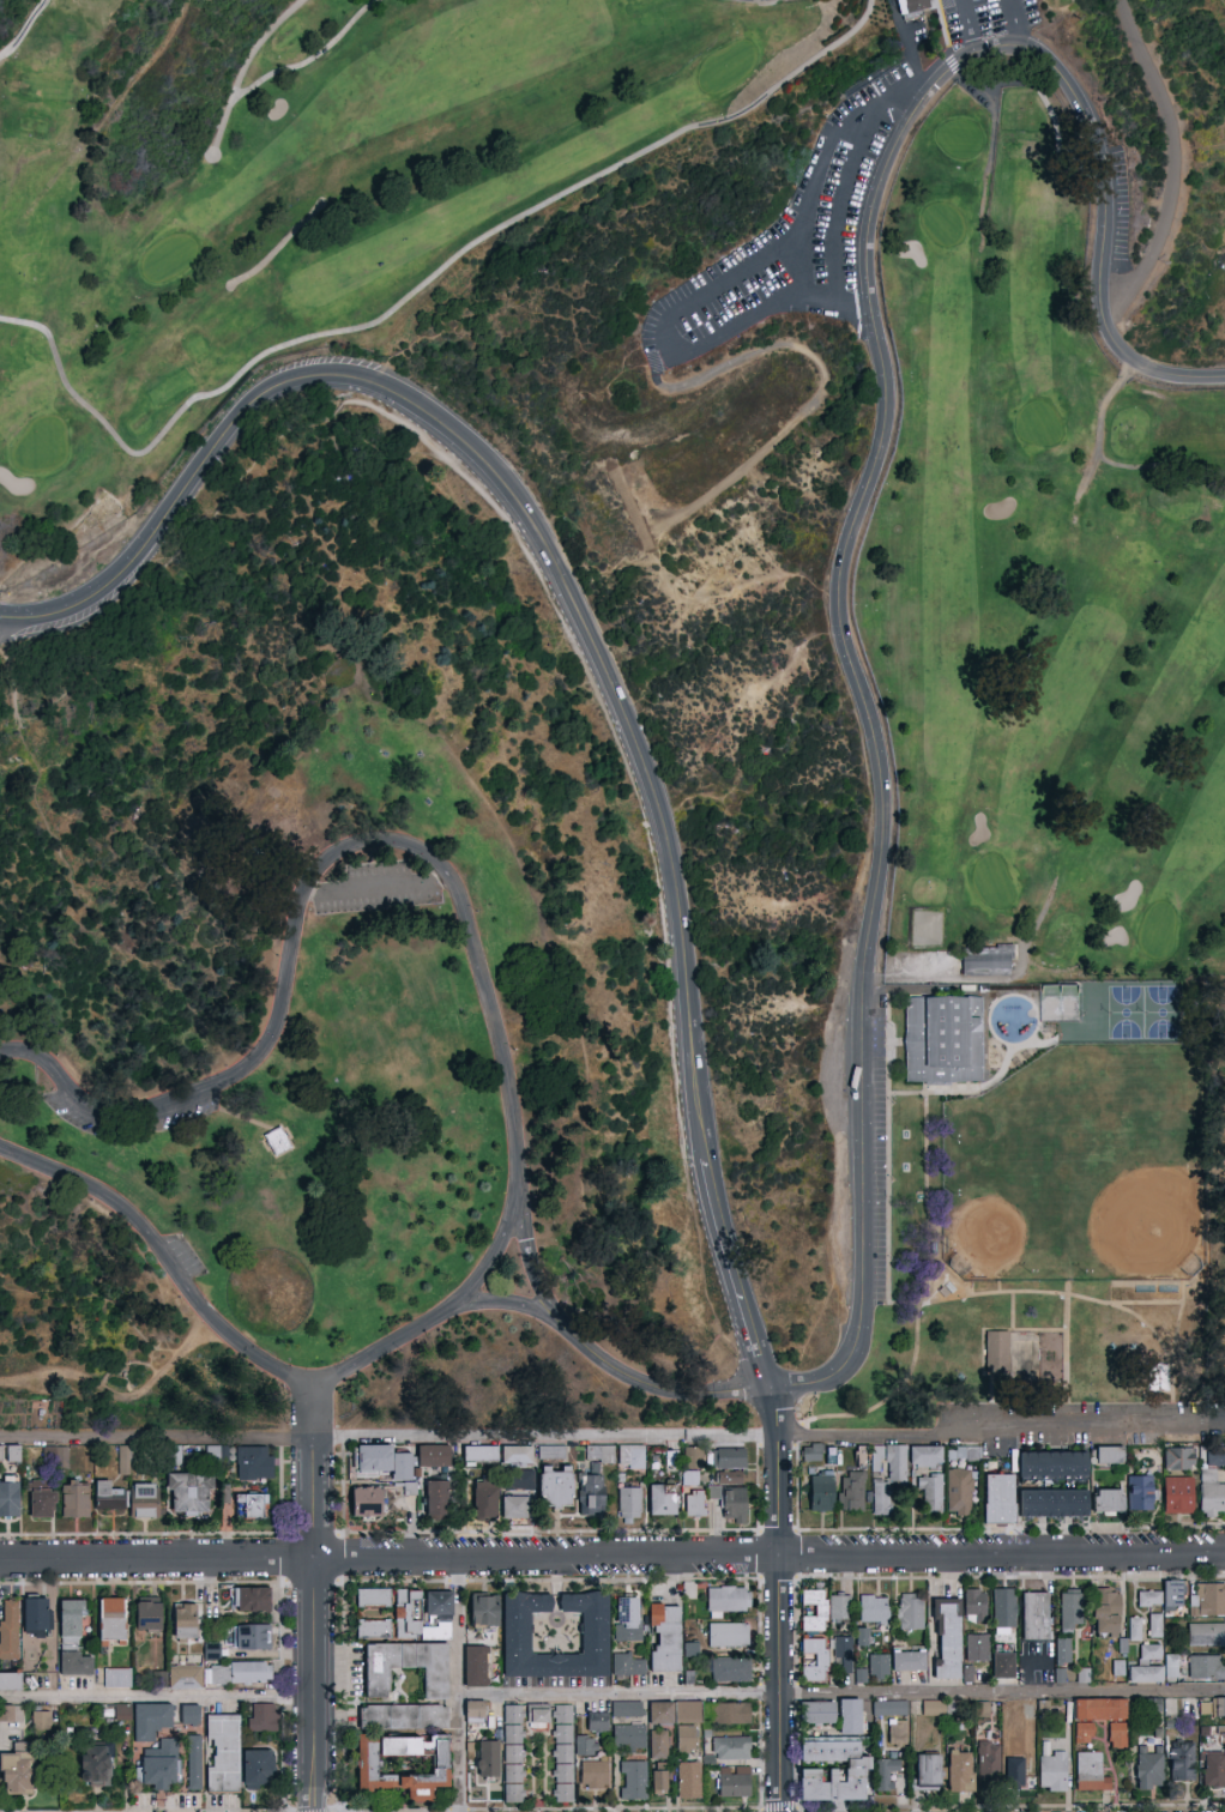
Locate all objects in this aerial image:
road: (758, 0)
road: (1221, 2)
building: (911, 5)
parking lot: (983, 18)
road: (1016, 23)
road: (967, 28)
road: (24, 30)
road: (246, 65)
road: (783, 83)
road: (1175, 162)
road: (813, 171)
park: (422, 177)
road: (840, 205)
parking lot: (791, 240)
road: (262, 264)
road: (1202, 316)
road: (659, 330)
road: (820, 374)
road: (98, 417)
road: (865, 488)
road: (723, 593)
road: (544, 594)
park: (1043, 596)
road: (579, 618)
road: (8, 647)
park: (611, 715)
parking lot: (378, 888)
building: (984, 959)
road: (906, 968)
road: (1032, 1001)
park: (1061, 1003)
park: (1143, 1014)
building: (946, 1040)
road: (1044, 1045)
road: (579, 1070)
road: (951, 1093)
road: (514, 1104)
parking lot: (77, 1115)
road: (235, 1115)
parking lot: (177, 1117)
building: (277, 1141)
parking lot: (879, 1178)
road: (503, 1245)
parking lot: (185, 1255)
road: (1036, 1293)
road: (922, 1298)
road: (1145, 1304)
road: (140, 1333)
building: (992, 1351)
road: (1175, 1354)
road: (1067, 1357)
road: (125, 1363)
road: (720, 1370)
building: (1159, 1377)
road: (654, 1385)
road: (123, 1399)
road: (314, 1406)
road: (777, 1412)
road: (1003, 1431)
road: (549, 1436)
road: (157, 1438)
building: (550, 1451)
building: (216, 1452)
building: (960, 1452)
building: (481, 1454)
building: (813, 1454)
building: (11, 1455)
building: (53, 1455)
building: (599, 1455)
building: (434, 1456)
building: (1109, 1456)
building: (632, 1457)
building: (925, 1457)
building: (1215, 1457)
building: (729, 1458)
building: (1178, 1458)
building: (123, 1460)
building: (384, 1461)
building: (254, 1463)
building: (692, 1466)
building: (1052, 1466)
building: (518, 1468)
building: (887, 1476)
building: (731, 1479)
building: (556, 1488)
building: (821, 1490)
building: (592, 1491)
building: (852, 1492)
building: (960, 1492)
building: (1141, 1492)
building: (931, 1493)
building: (191, 1494)
building: (1211, 1494)
building: (1178, 1496)
building: (437, 1498)
building: (10, 1499)
building: (76, 1499)
building: (128, 1499)
building: (1000, 1499)
building: (485, 1500)
building: (662, 1500)
building: (43, 1503)
building: (369, 1503)
building: (629, 1503)
building: (1108, 1503)
building: (695, 1504)
building: (734, 1504)
building: (1054, 1504)
building: (252, 1506)
building: (515, 1508)
road: (611, 1558)
building: (1173, 1595)
building: (251, 1599)
building: (374, 1599)
building: (1149, 1600)
building: (725, 1601)
building: (976, 1606)
building: (874, 1608)
building: (1004, 1608)
building: (484, 1611)
building: (814, 1611)
building: (1072, 1611)
building: (839, 1612)
building: (911, 1612)
building: (1106, 1612)
building: (406, 1614)
building: (149, 1615)
building: (439, 1615)
building: (1207, 1615)
building: (1037, 1617)
building: (36, 1618)
building: (628, 1619)
building: (111, 1620)
building: (185, 1620)
road: (785, 1623)
road: (315, 1624)
building: (1155, 1626)
building: (8, 1627)
building: (375, 1629)
building: (1135, 1629)
building: (596, 1633)
building: (729, 1636)
building: (252, 1637)
building: (863, 1637)
building: (666, 1638)
building: (949, 1638)
building: (72, 1639)
building: (978, 1649)
building: (1063, 1651)
building: (1151, 1653)
building: (844, 1655)
building: (815, 1660)
building: (910, 1661)
building: (998, 1665)
building: (1116, 1666)
building: (408, 1667)
building: (476, 1667)
building: (629, 1667)
building: (880, 1667)
building: (1172, 1667)
building: (1206, 1667)
building: (731, 1669)
building: (966, 1672)
building: (240, 1673)
building: (859, 1674)
building: (1146, 1674)
building: (1060, 1675)
building: (1082, 1675)
building: (119, 1678)
building: (185, 1678)
building: (11, 1681)
road: (457, 1685)
road: (840, 1696)
road: (158, 1698)
building: (1201, 1707)
building: (980, 1708)
building: (1219, 1708)
building: (628, 1709)
building: (891, 1709)
building: (935, 1709)
building: (1012, 1710)
building: (476, 1711)
building: (674, 1711)
building: (122, 1713)
building: (533, 1713)
building: (11, 1714)
building: (730, 1714)
building: (819, 1714)
building: (189, 1715)
building: (404, 1717)
building: (539, 1717)
building: (851, 1717)
building: (1106, 1717)
building: (264, 1719)
building: (42, 1721)
building: (151, 1721)
building: (598, 1722)
building: (898, 1732)
building: (1084, 1733)
building: (629, 1736)
building: (688, 1739)
building: (659, 1744)
building: (586, 1746)
building: (732, 1748)
building: (224, 1753)
building: (563, 1753)
building: (514, 1754)
building: (489, 1759)
building: (989, 1762)
building: (1181, 1762)
building: (194, 1763)
building: (403, 1764)
building: (97, 1766)
building: (161, 1766)
building: (1016, 1769)
building: (1149, 1769)
building: (259, 1770)
building: (1213, 1770)
building: (834, 1771)
building: (1054, 1771)
building: (928, 1772)
building: (960, 1772)
building: (1090, 1772)
building: (18, 1774)
building: (886, 1774)
building: (595, 1775)
building: (634, 1780)
building: (689, 1781)
building: (659, 1782)
building: (734, 1786)

